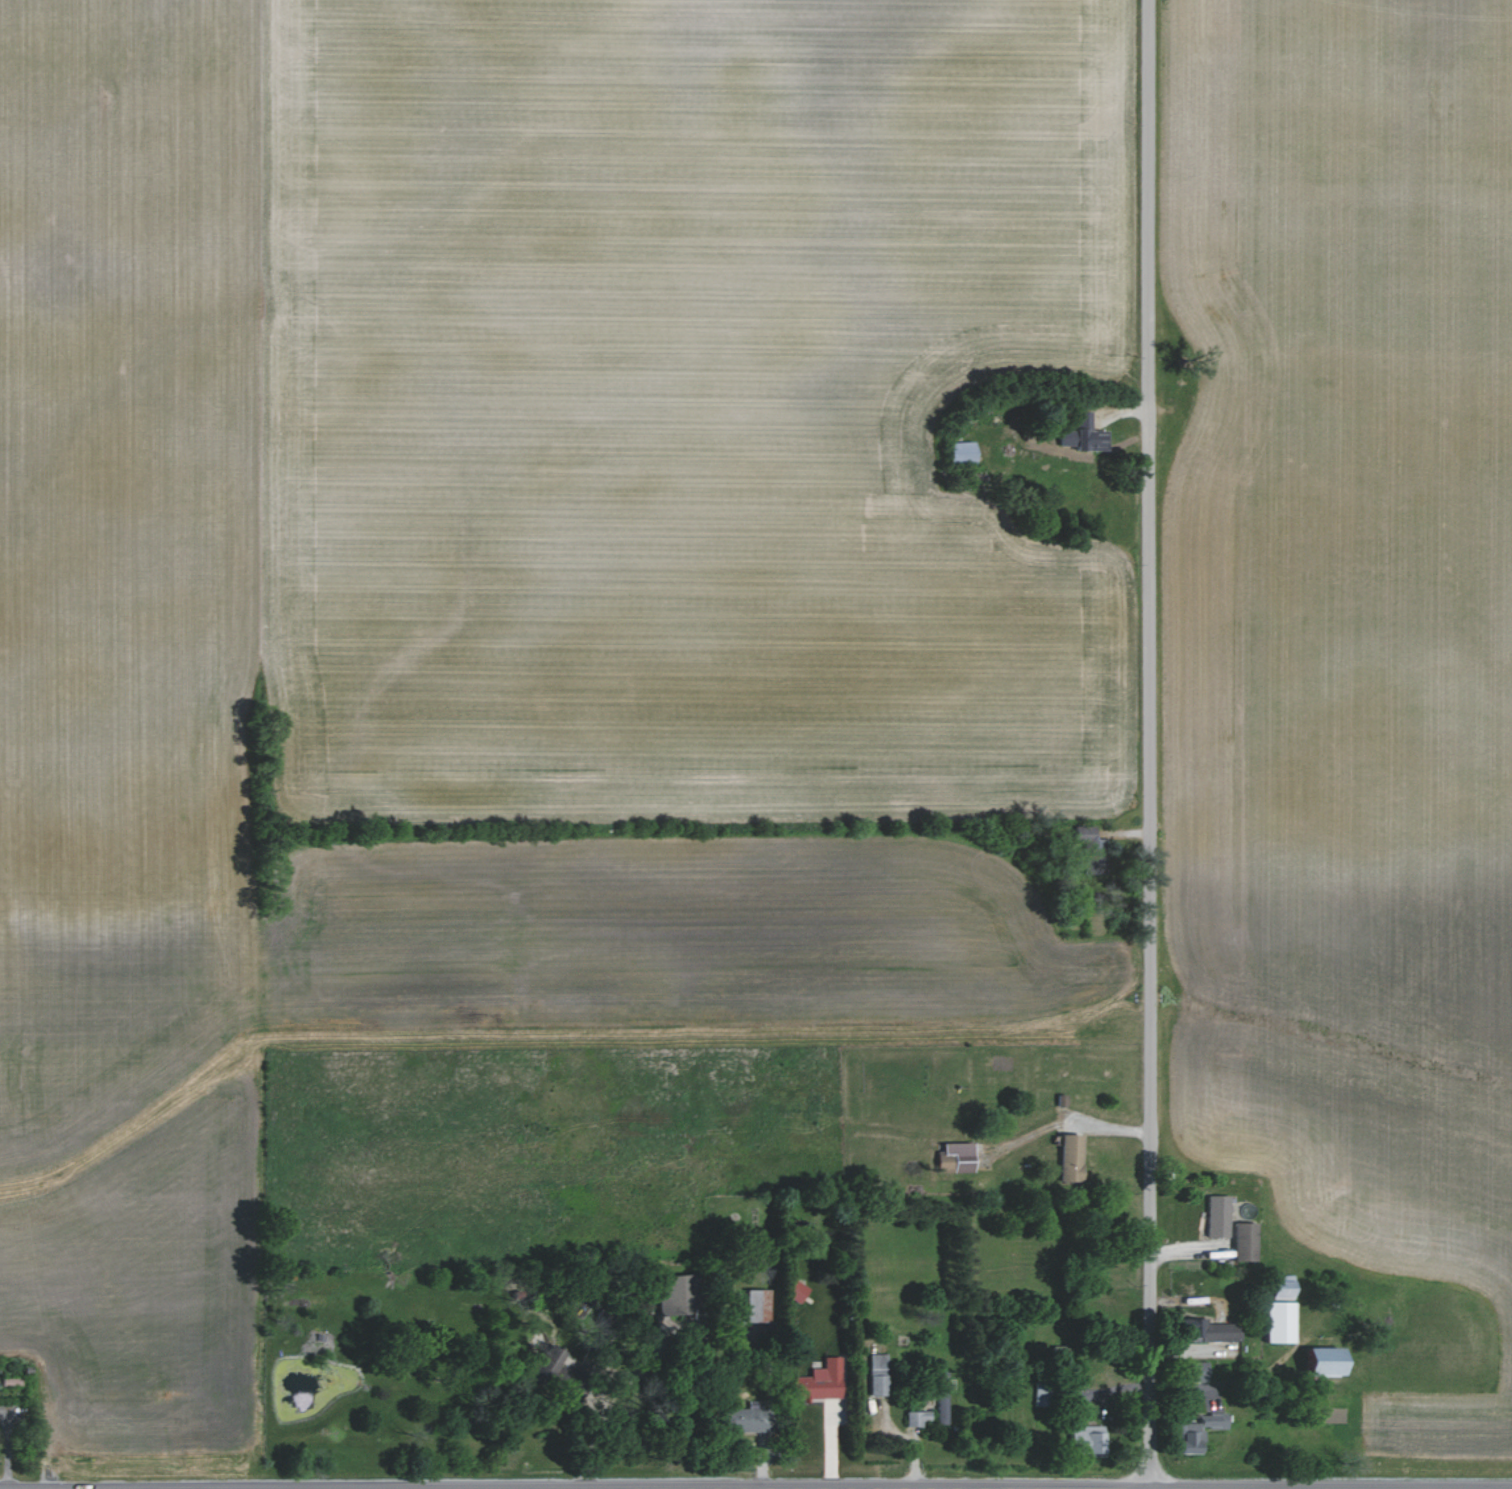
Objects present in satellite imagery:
building: (1078, 433)
building: (957, 451)
road: (1146, 744)
building: (1081, 834)
building: (1087, 862)
building: (951, 1156)
building: (1066, 1156)
building: (1213, 1215)
building: (1240, 1240)
building: (1278, 1286)
building: (793, 1290)
building: (668, 1293)
building: (751, 1304)
building: (1274, 1321)
building: (1208, 1330)
building: (1317, 1360)
building: (1190, 1371)
building: (875, 1373)
building: (815, 1381)
building: (938, 1397)
road: (612, 1398)
building: (914, 1417)
building: (740, 1419)
building: (1208, 1419)
building: (1185, 1437)
building: (1082, 1438)
road: (914, 1443)

